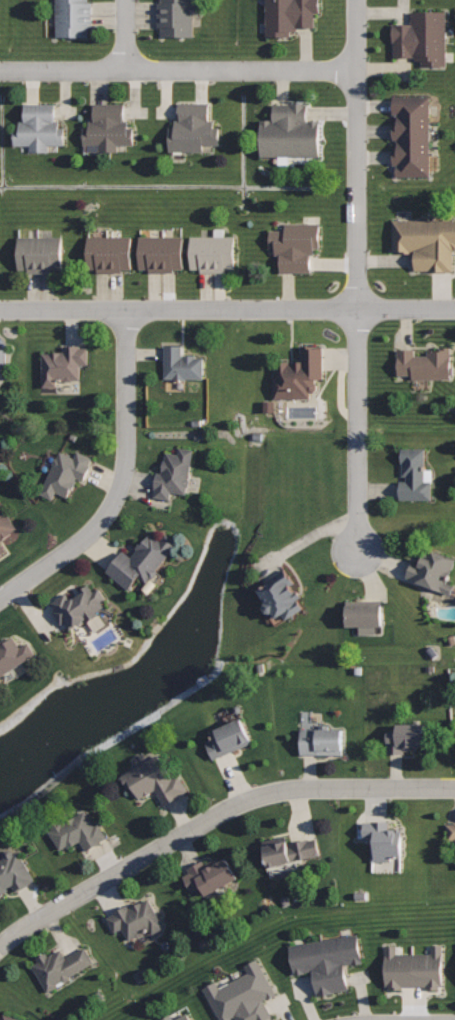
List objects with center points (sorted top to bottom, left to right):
building: (290, 15)
building: (73, 17)
building: (177, 17)
road: (126, 34)
building: (422, 37)
road: (65, 71)
road: (241, 71)
building: (39, 127)
building: (109, 128)
building: (193, 128)
building: (290, 131)
building: (412, 135)
road: (357, 154)
building: (426, 241)
building: (296, 244)
building: (161, 252)
building: (213, 252)
building: (40, 253)
building: (110, 253)
road: (227, 309)
building: (4, 357)
building: (182, 363)
building: (426, 363)
building: (63, 364)
building: (299, 374)
road: (358, 430)
building: (174, 472)
building: (66, 474)
building: (415, 475)
road: (120, 480)
building: (6, 522)
building: (2, 549)
building: (142, 559)
building: (434, 570)
building: (282, 594)
building: (80, 605)
building: (365, 614)
building: (13, 653)
building: (407, 736)
building: (228, 737)
building: (322, 741)
building: (155, 778)
road: (212, 817)
building: (79, 829)
building: (451, 829)
building: (382, 841)
building: (290, 849)
building: (14, 871)
building: (210, 875)
building: (136, 918)
building: (327, 960)
building: (61, 965)
building: (414, 967)
building: (242, 995)
building: (185, 1016)
building: (9, 1017)

